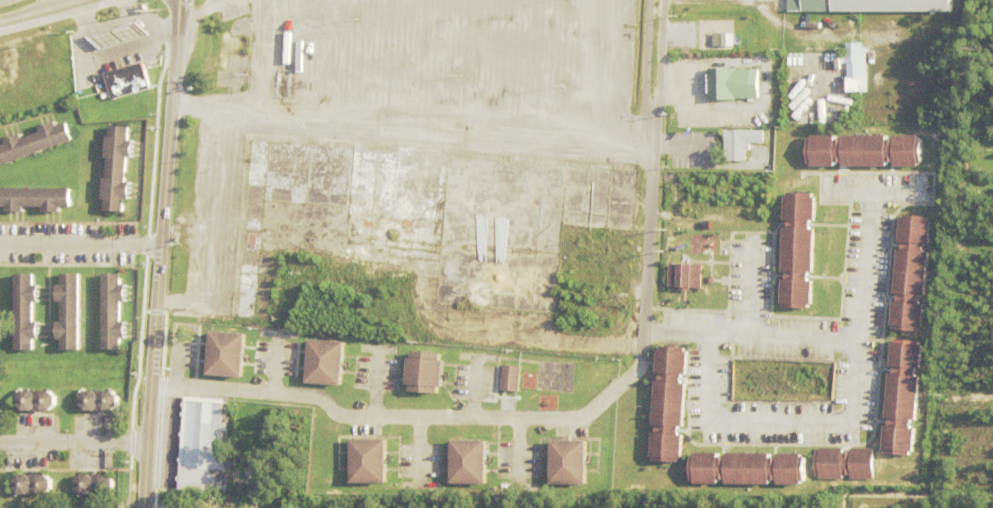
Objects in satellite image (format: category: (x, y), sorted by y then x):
building: (870, 6)
road: (52, 14)
building: (117, 34)
building: (721, 39)
building: (220, 47)
building: (853, 60)
building: (127, 80)
building: (854, 84)
building: (731, 85)
building: (286, 91)
parking lot: (408, 92)
building: (34, 142)
building: (739, 144)
building: (425, 150)
building: (861, 150)
building: (117, 169)
building: (35, 199)
building: (440, 215)
building: (795, 249)
road: (83, 251)
road: (863, 251)
road: (973, 252)
road: (165, 254)
building: (908, 272)
building: (683, 275)
road: (750, 290)
building: (25, 310)
building: (68, 310)
building: (113, 310)
building: (225, 356)
road: (181, 357)
road: (280, 363)
building: (325, 364)
building: (424, 374)
building: (509, 377)
road: (379, 382)
road: (480, 387)
road: (853, 390)
building: (900, 396)
building: (38, 397)
building: (101, 397)
road: (966, 399)
building: (666, 403)
road: (590, 417)
building: (200, 443)
road: (74, 447)
road: (421, 452)
road: (520, 452)
building: (842, 463)
building: (368, 464)
building: (468, 464)
building: (568, 465)
building: (745, 468)
building: (96, 481)
building: (33, 482)
road: (258, 500)
building: (288, 507)

